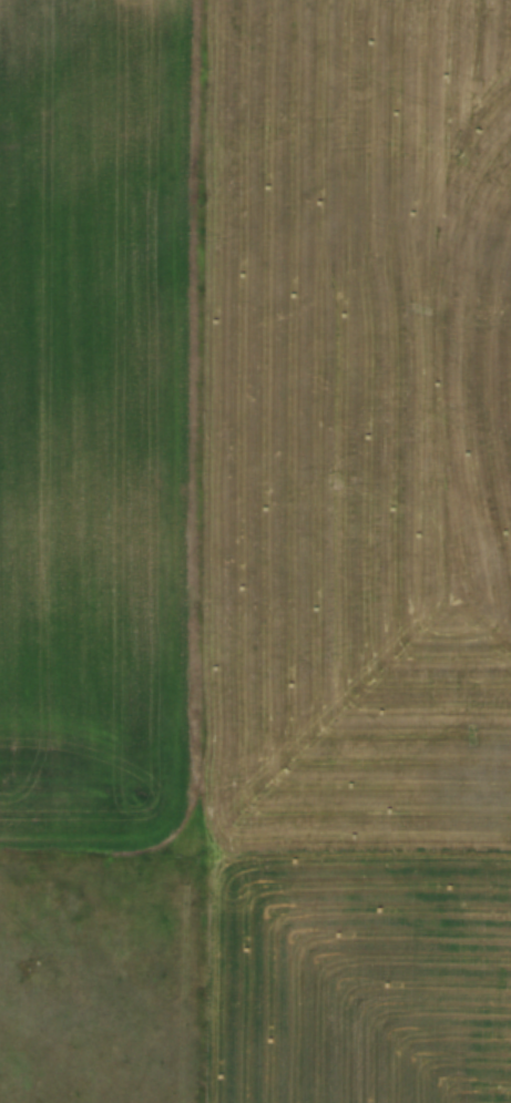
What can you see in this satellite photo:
road: (255, 851)
road: (200, 977)

